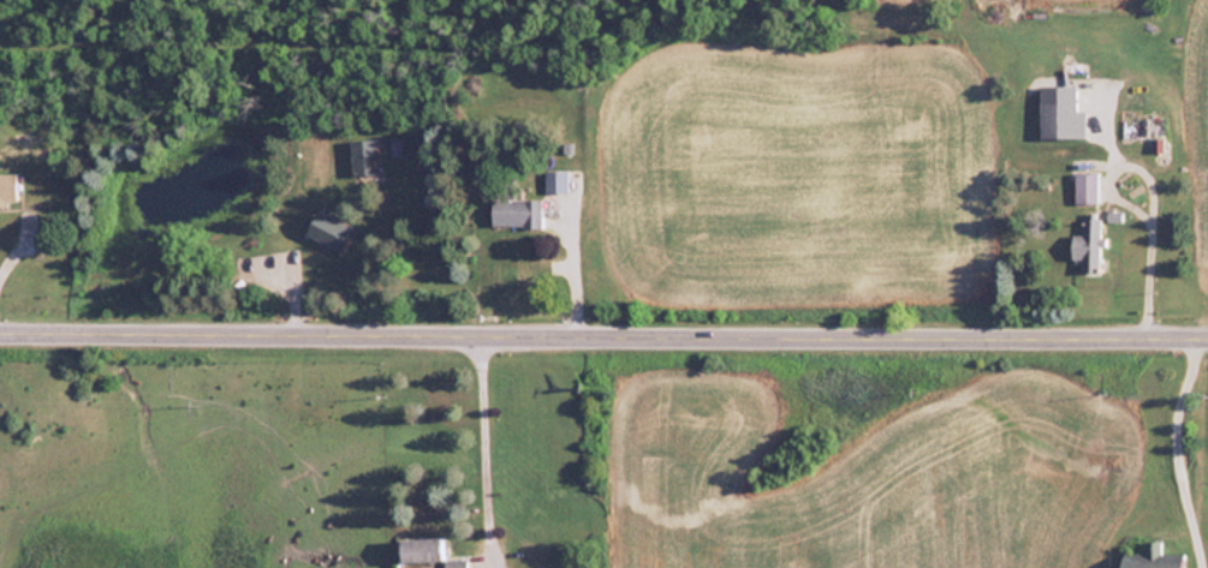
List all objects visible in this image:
building: (364, 157)
building: (1085, 187)
building: (7, 189)
building: (569, 205)
building: (517, 211)
building: (331, 231)
building: (1088, 244)
road: (603, 329)
road: (480, 449)
building: (419, 550)
building: (1152, 557)
building: (454, 563)

